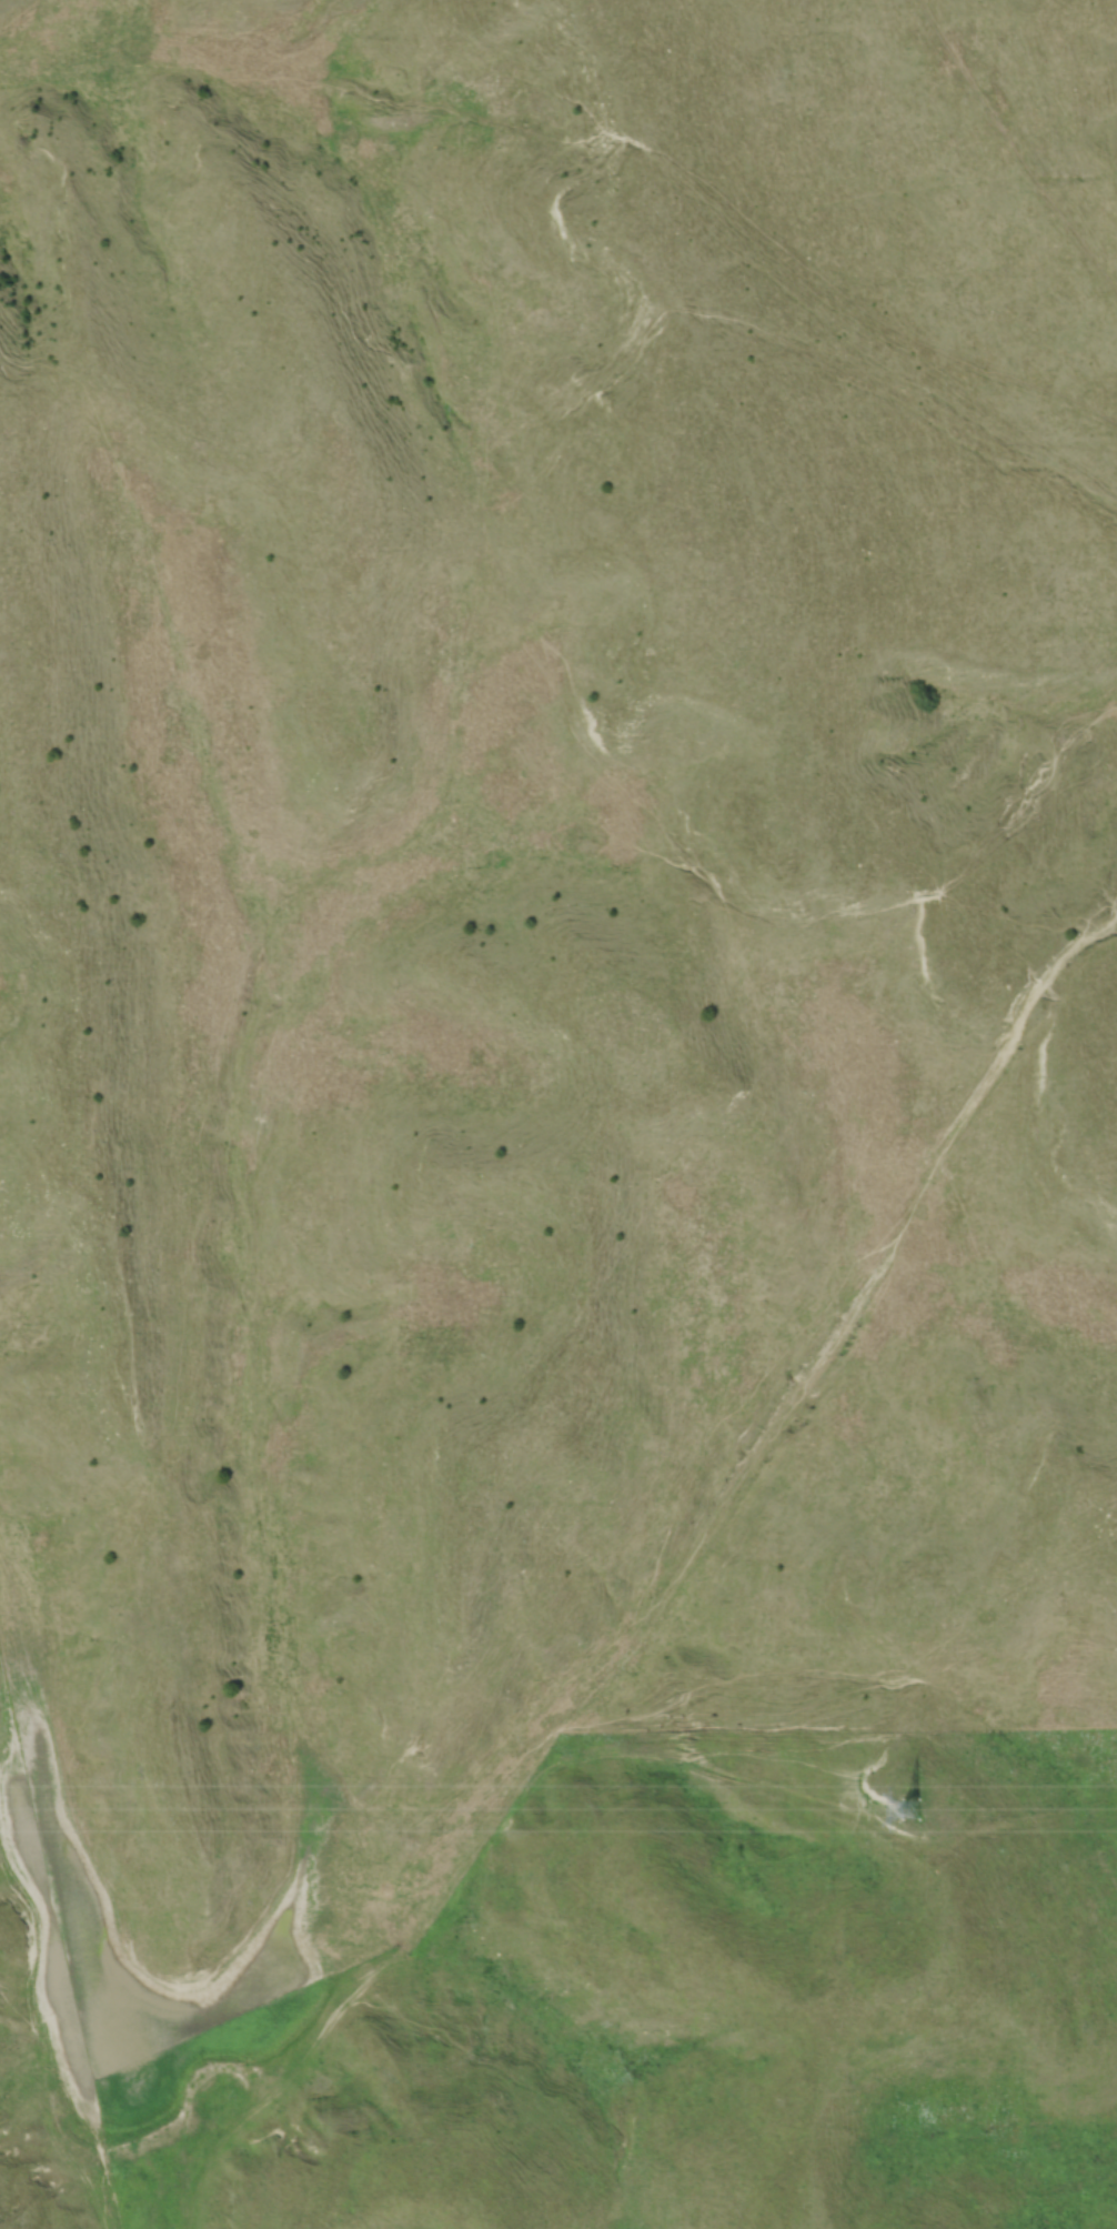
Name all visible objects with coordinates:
power tower: (917, 1811)

